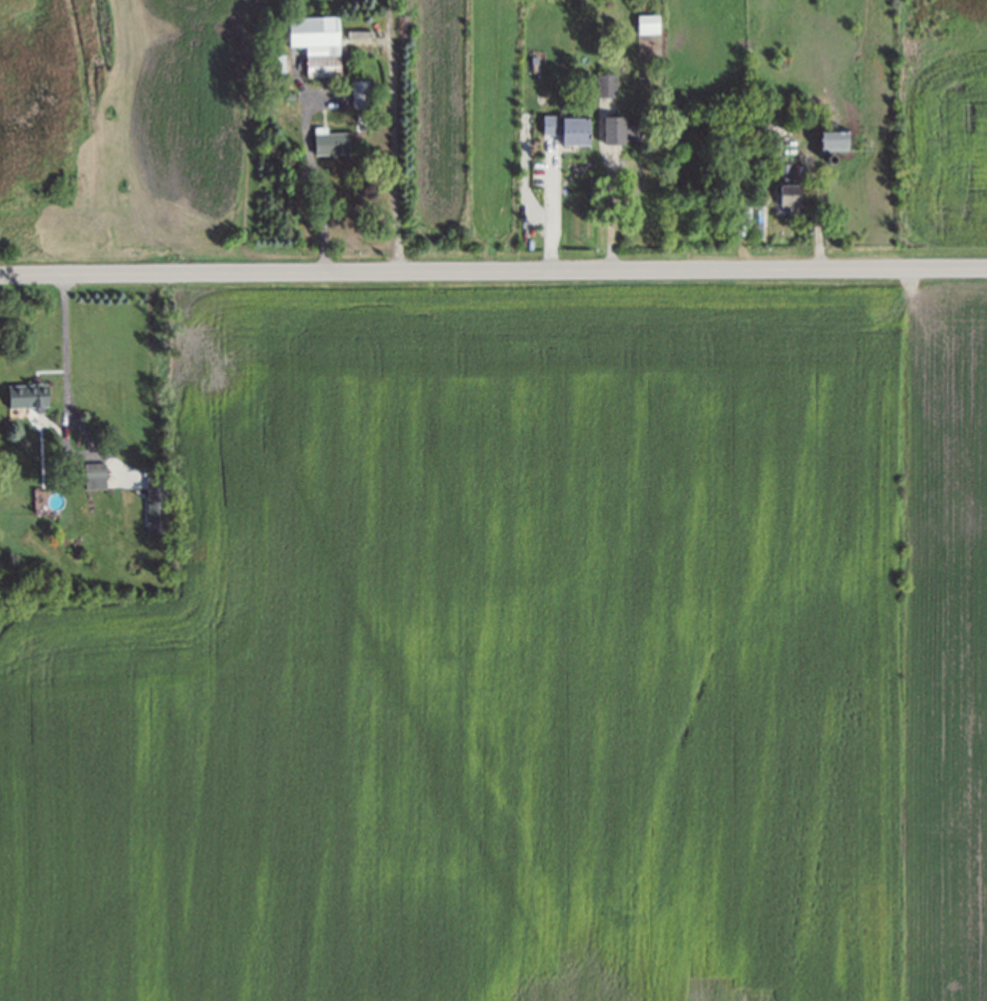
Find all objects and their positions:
building: (646, 27)
building: (316, 45)
building: (277, 67)
building: (604, 90)
building: (359, 98)
building: (288, 99)
building: (619, 133)
building: (563, 135)
building: (756, 136)
road: (395, 137)
building: (830, 144)
building: (330, 145)
road: (314, 180)
building: (788, 197)
road: (548, 209)
road: (609, 212)
building: (741, 221)
road: (493, 273)
road: (64, 330)
building: (34, 398)
building: (94, 477)
building: (153, 499)
crop: (946, 651)

